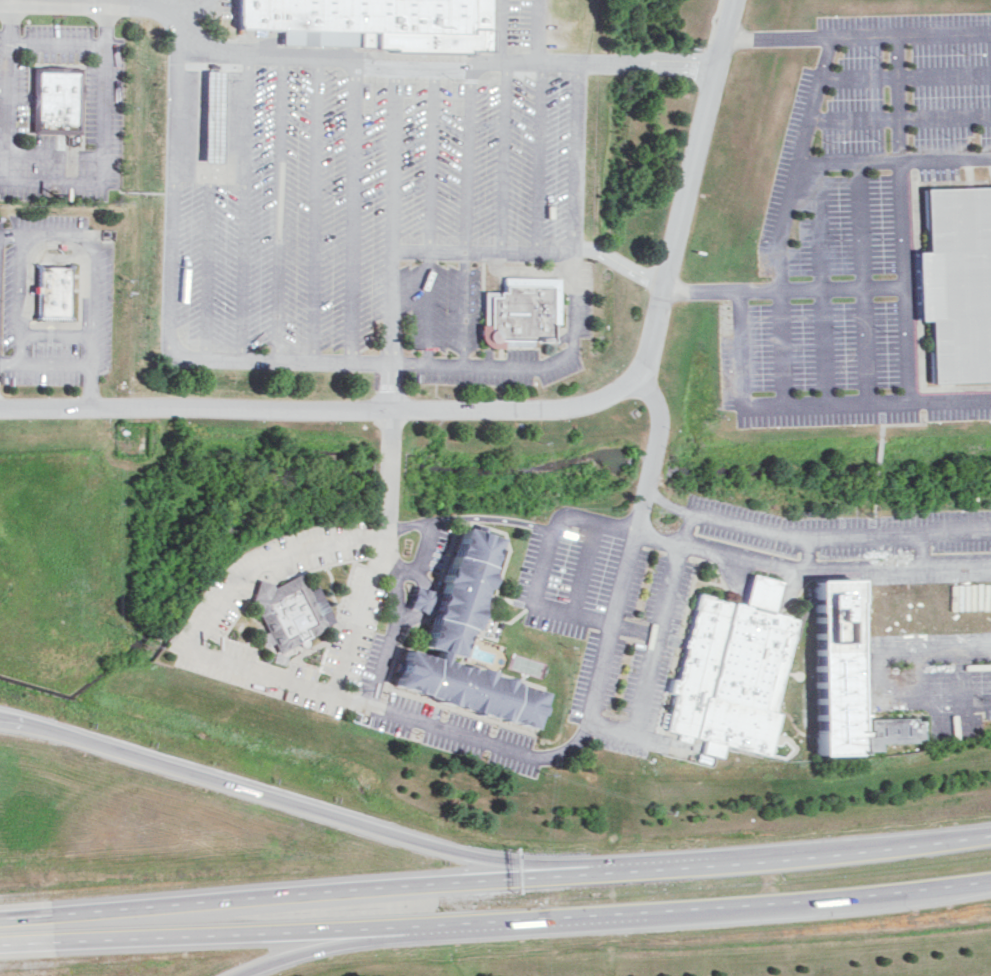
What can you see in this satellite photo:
road: (105, 1)
road: (181, 7)
building: (369, 24)
road: (495, 31)
road: (536, 31)
road: (945, 32)
road: (724, 33)
road: (866, 34)
road: (778, 36)
road: (57, 47)
road: (352, 65)
road: (906, 77)
road: (899, 98)
building: (51, 103)
road: (176, 105)
road: (900, 118)
building: (207, 119)
gas station: (207, 119)
road: (500, 158)
road: (537, 158)
road: (53, 159)
road: (946, 160)
road: (464, 161)
road: (850, 163)
road: (206, 174)
road: (53, 184)
road: (242, 207)
road: (278, 208)
road: (311, 209)
road: (351, 214)
road: (390, 216)
road: (428, 216)
road: (786, 218)
road: (902, 223)
road: (482, 253)
road: (95, 257)
road: (618, 263)
road: (169, 264)
road: (205, 266)
road: (820, 282)
road: (862, 282)
building: (955, 284)
road: (820, 287)
road: (700, 290)
building: (51, 293)
road: (461, 308)
building: (516, 313)
road: (905, 343)
road: (18, 358)
road: (514, 364)
road: (9, 366)
road: (387, 386)
road: (807, 405)
road: (481, 407)
road: (879, 422)
road: (656, 430)
road: (384, 470)
road: (875, 471)
road: (489, 519)
road: (871, 520)
road: (811, 540)
road: (921, 552)
road: (726, 554)
road: (263, 561)
road: (581, 569)
road: (402, 574)
road: (390, 576)
road: (417, 597)
building: (283, 613)
road: (358, 613)
road: (594, 621)
road: (660, 623)
building: (457, 641)
road: (936, 654)
building: (733, 674)
building: (833, 674)
road: (926, 681)
road: (966, 690)
road: (978, 705)
road: (902, 707)
road: (624, 731)
road: (505, 749)
road: (277, 799)
road: (496, 879)
road: (496, 916)
road: (307, 951)

